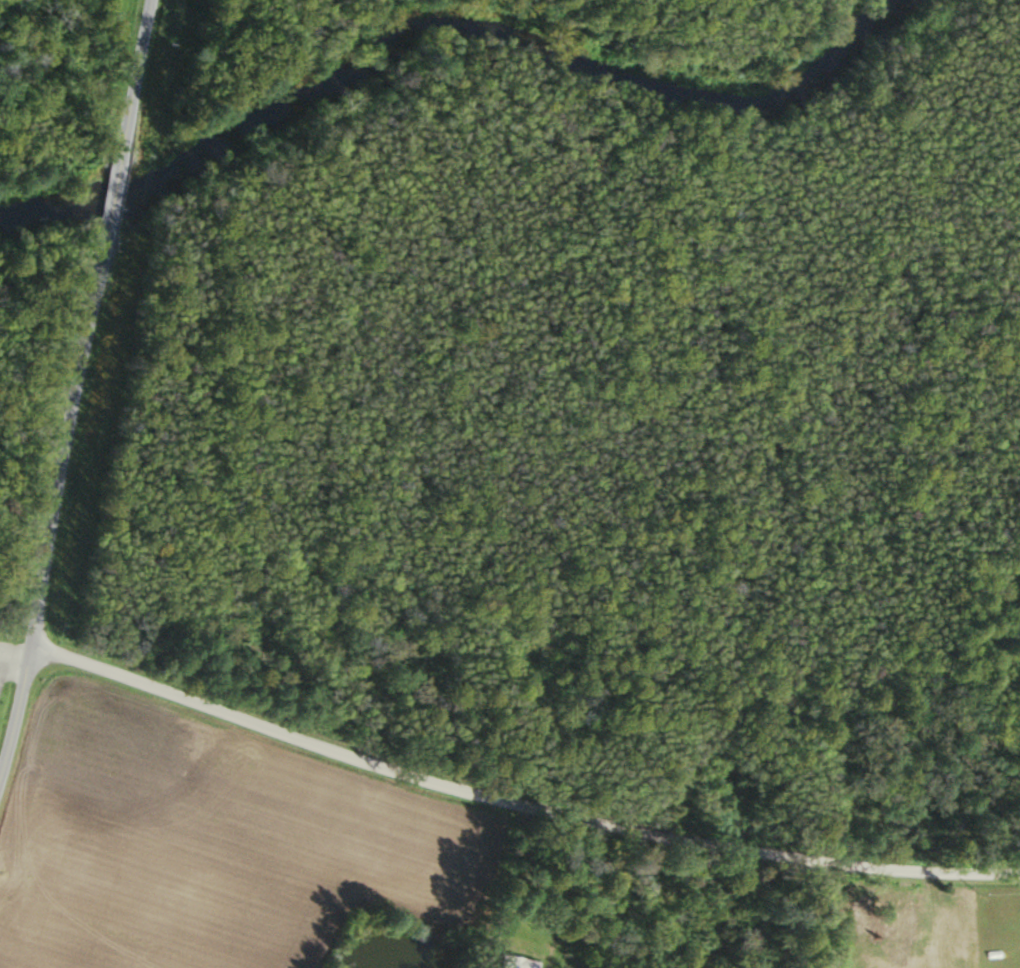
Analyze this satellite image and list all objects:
road: (134, 79)
road: (110, 207)
road: (51, 521)
road: (518, 808)
road: (505, 889)
building: (898, 918)
building: (513, 962)

